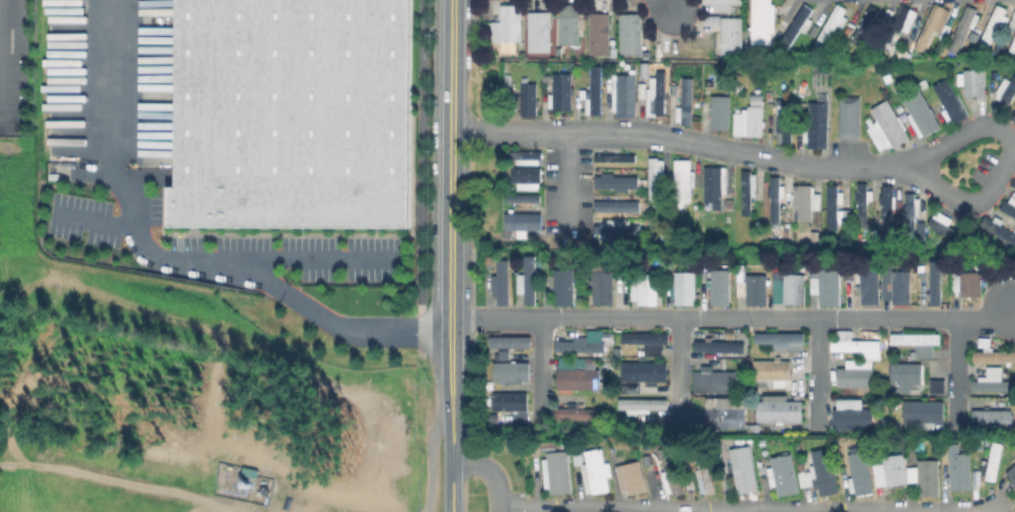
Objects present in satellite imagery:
road: (663, 5)
building: (724, 6)
building: (569, 23)
building: (762, 23)
building: (866, 25)
building: (508, 26)
building: (901, 26)
building: (798, 27)
building: (830, 27)
building: (930, 27)
building: (992, 29)
building: (963, 30)
building: (539, 32)
building: (631, 34)
building: (600, 35)
building: (731, 37)
building: (1013, 47)
building: (645, 70)
road: (108, 81)
building: (975, 83)
building: (643, 91)
building: (1005, 92)
building: (563, 93)
building: (595, 93)
building: (657, 95)
building: (625, 96)
building: (528, 100)
building: (950, 101)
building: (687, 104)
building: (1014, 111)
building: (722, 113)
building: (922, 113)
building: (292, 114)
building: (849, 116)
building: (785, 120)
building: (749, 123)
building: (817, 124)
building: (888, 125)
road: (682, 141)
building: (613, 157)
road: (1007, 158)
road: (451, 160)
building: (530, 160)
building: (655, 175)
road: (423, 179)
building: (528, 179)
building: (684, 180)
road: (568, 182)
building: (1014, 184)
building: (616, 185)
building: (716, 185)
building: (748, 189)
building: (525, 201)
building: (804, 201)
building: (863, 202)
building: (834, 204)
building: (777, 205)
building: (888, 206)
building: (1009, 206)
building: (619, 209)
building: (911, 212)
road: (92, 220)
building: (524, 223)
building: (618, 228)
building: (949, 228)
building: (998, 229)
building: (818, 240)
road: (320, 257)
building: (491, 261)
road: (256, 273)
building: (887, 274)
building: (505, 283)
building: (533, 283)
building: (938, 283)
building: (971, 284)
building: (831, 286)
building: (873, 287)
building: (567, 288)
building: (722, 288)
building: (904, 288)
building: (689, 289)
building: (798, 289)
building: (649, 290)
building: (607, 291)
building: (760, 291)
road: (733, 318)
building: (731, 336)
building: (609, 338)
building: (648, 340)
building: (781, 340)
building: (507, 341)
building: (918, 341)
building: (854, 345)
building: (718, 346)
building: (581, 348)
building: (620, 349)
building: (723, 353)
building: (756, 353)
building: (995, 358)
road: (539, 362)
building: (575, 362)
building: (591, 363)
road: (679, 368)
road: (815, 370)
road: (955, 370)
building: (646, 374)
building: (774, 374)
building: (513, 375)
building: (910, 378)
building: (856, 380)
building: (579, 381)
building: (994, 384)
building: (934, 385)
building: (719, 386)
road: (451, 390)
building: (634, 390)
building: (511, 403)
building: (645, 406)
building: (781, 413)
building: (580, 415)
building: (925, 416)
building: (854, 418)
building: (729, 421)
building: (994, 422)
building: (886, 425)
building: (755, 430)
building: (579, 458)
building: (629, 459)
building: (995, 463)
road: (488, 471)
building: (747, 472)
building: (894, 473)
building: (963, 473)
building: (1013, 473)
building: (598, 474)
building: (673, 474)
building: (560, 475)
building: (823, 475)
building: (703, 476)
building: (862, 476)
building: (786, 477)
building: (635, 480)
building: (933, 482)
road: (451, 486)
road: (678, 509)
road: (497, 510)
road: (597, 510)
road: (726, 511)
road: (859, 511)
road: (915, 511)

